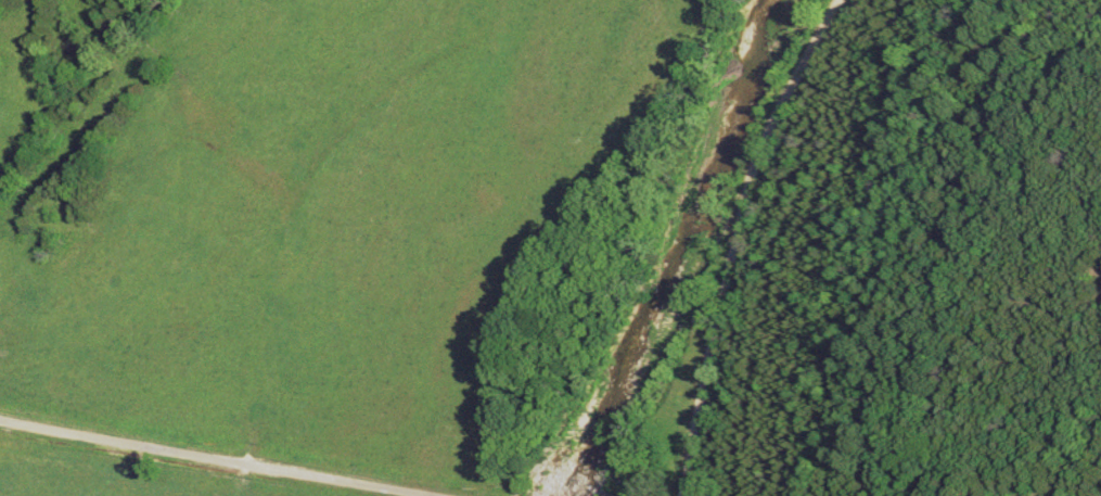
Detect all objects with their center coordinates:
road: (752, 242)
road: (236, 457)

